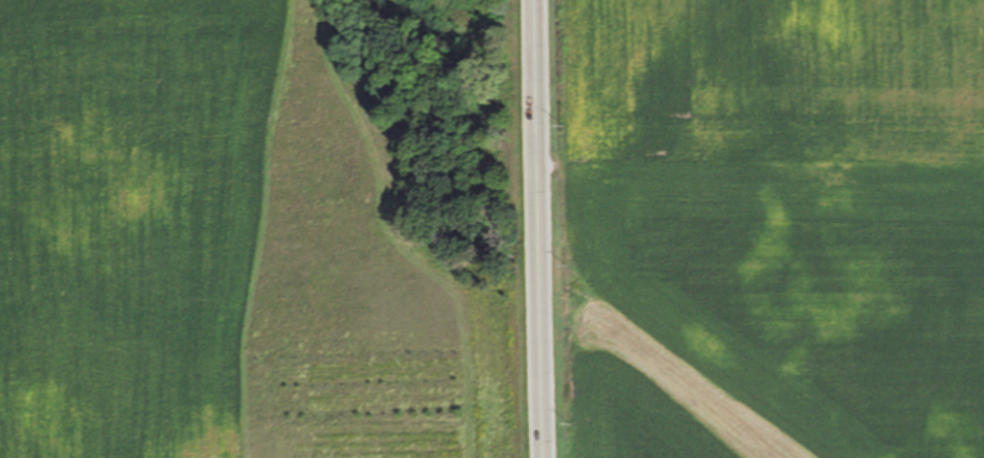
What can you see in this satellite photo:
road: (541, 228)

